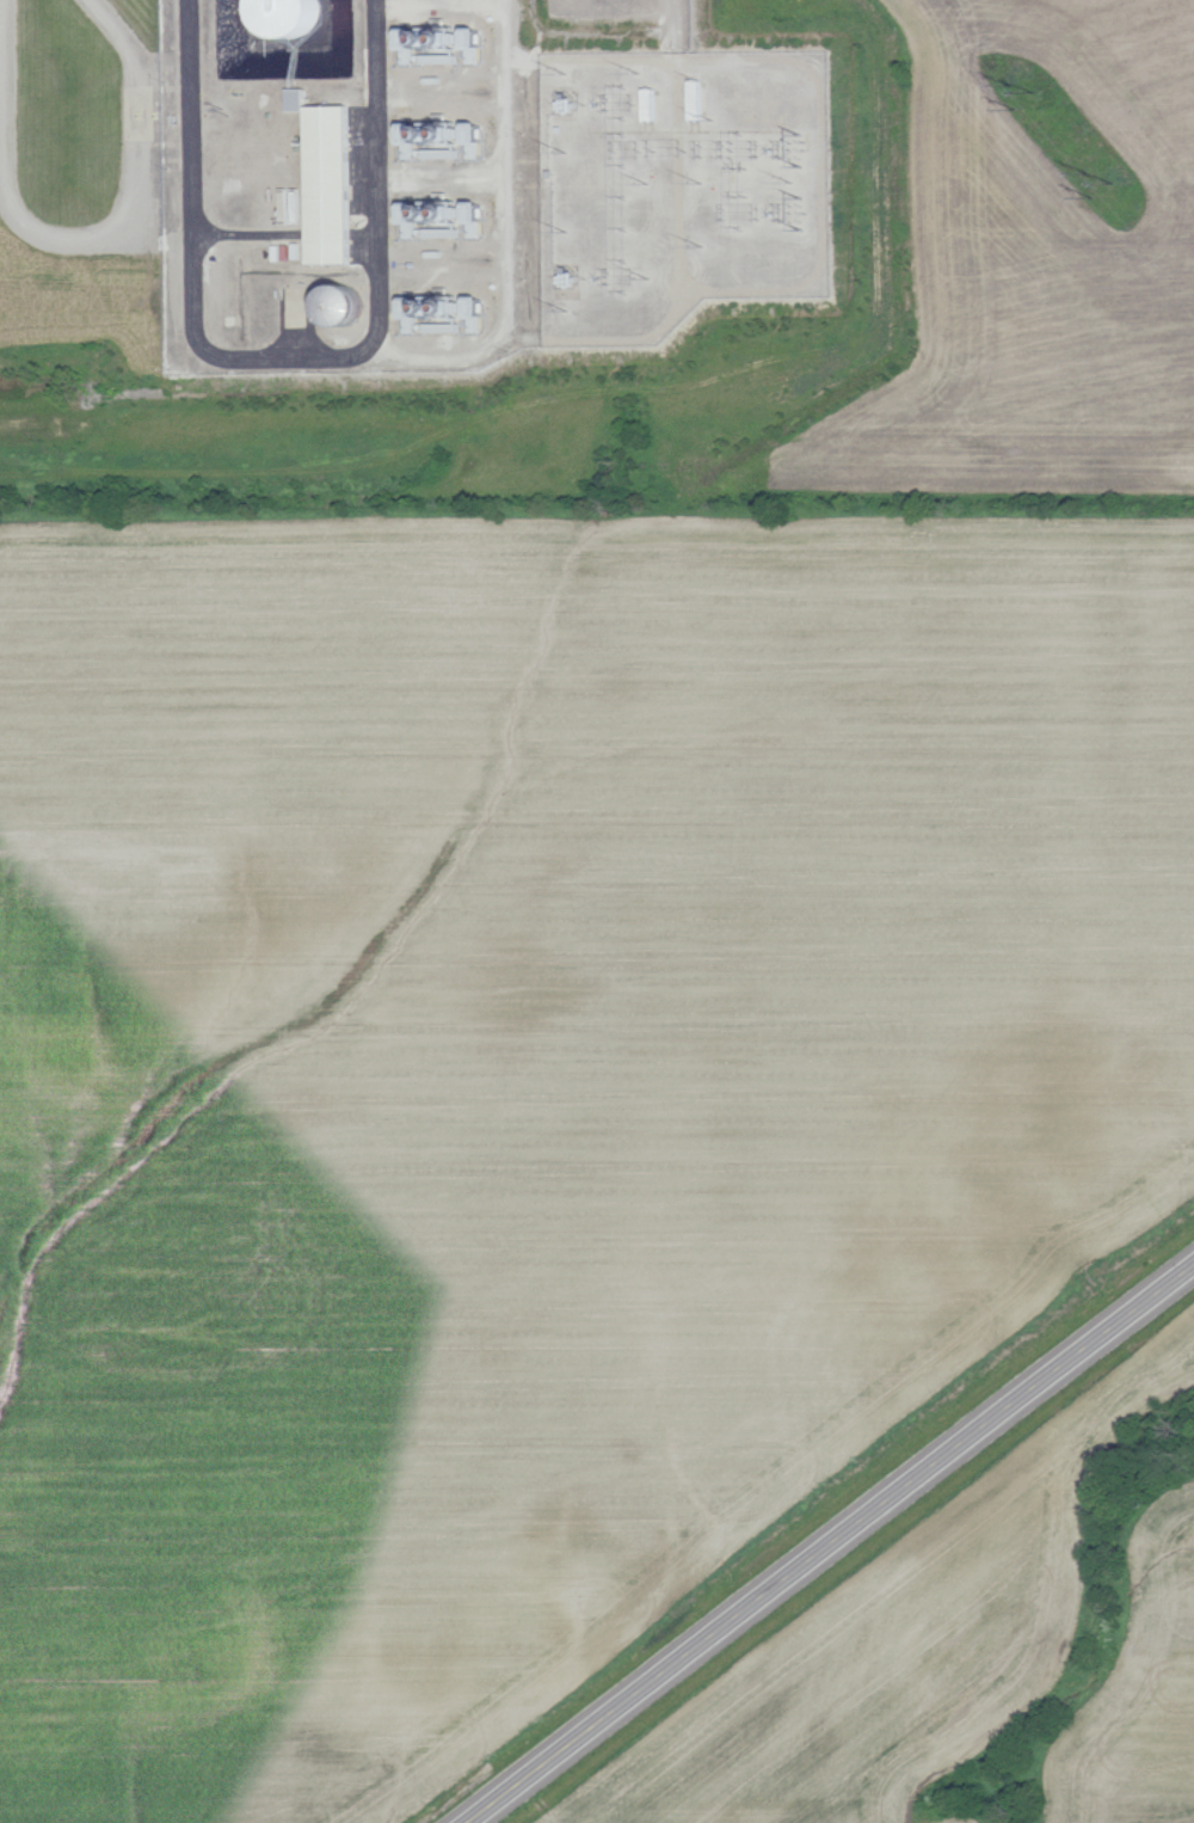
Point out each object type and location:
building: (290, 17)
chimney: (426, 41)
chimney: (447, 41)
building: (412, 43)
building: (296, 99)
chimney: (427, 135)
chimney: (448, 135)
building: (413, 137)
power plant: (359, 177)
power tower: (1102, 180)
building: (328, 184)
power substation: (673, 185)
chimney: (429, 214)
chimney: (449, 215)
building: (423, 223)
road: (80, 238)
chimney: (430, 309)
chimney: (449, 309)
building: (414, 312)
road: (287, 364)
road: (829, 1543)

